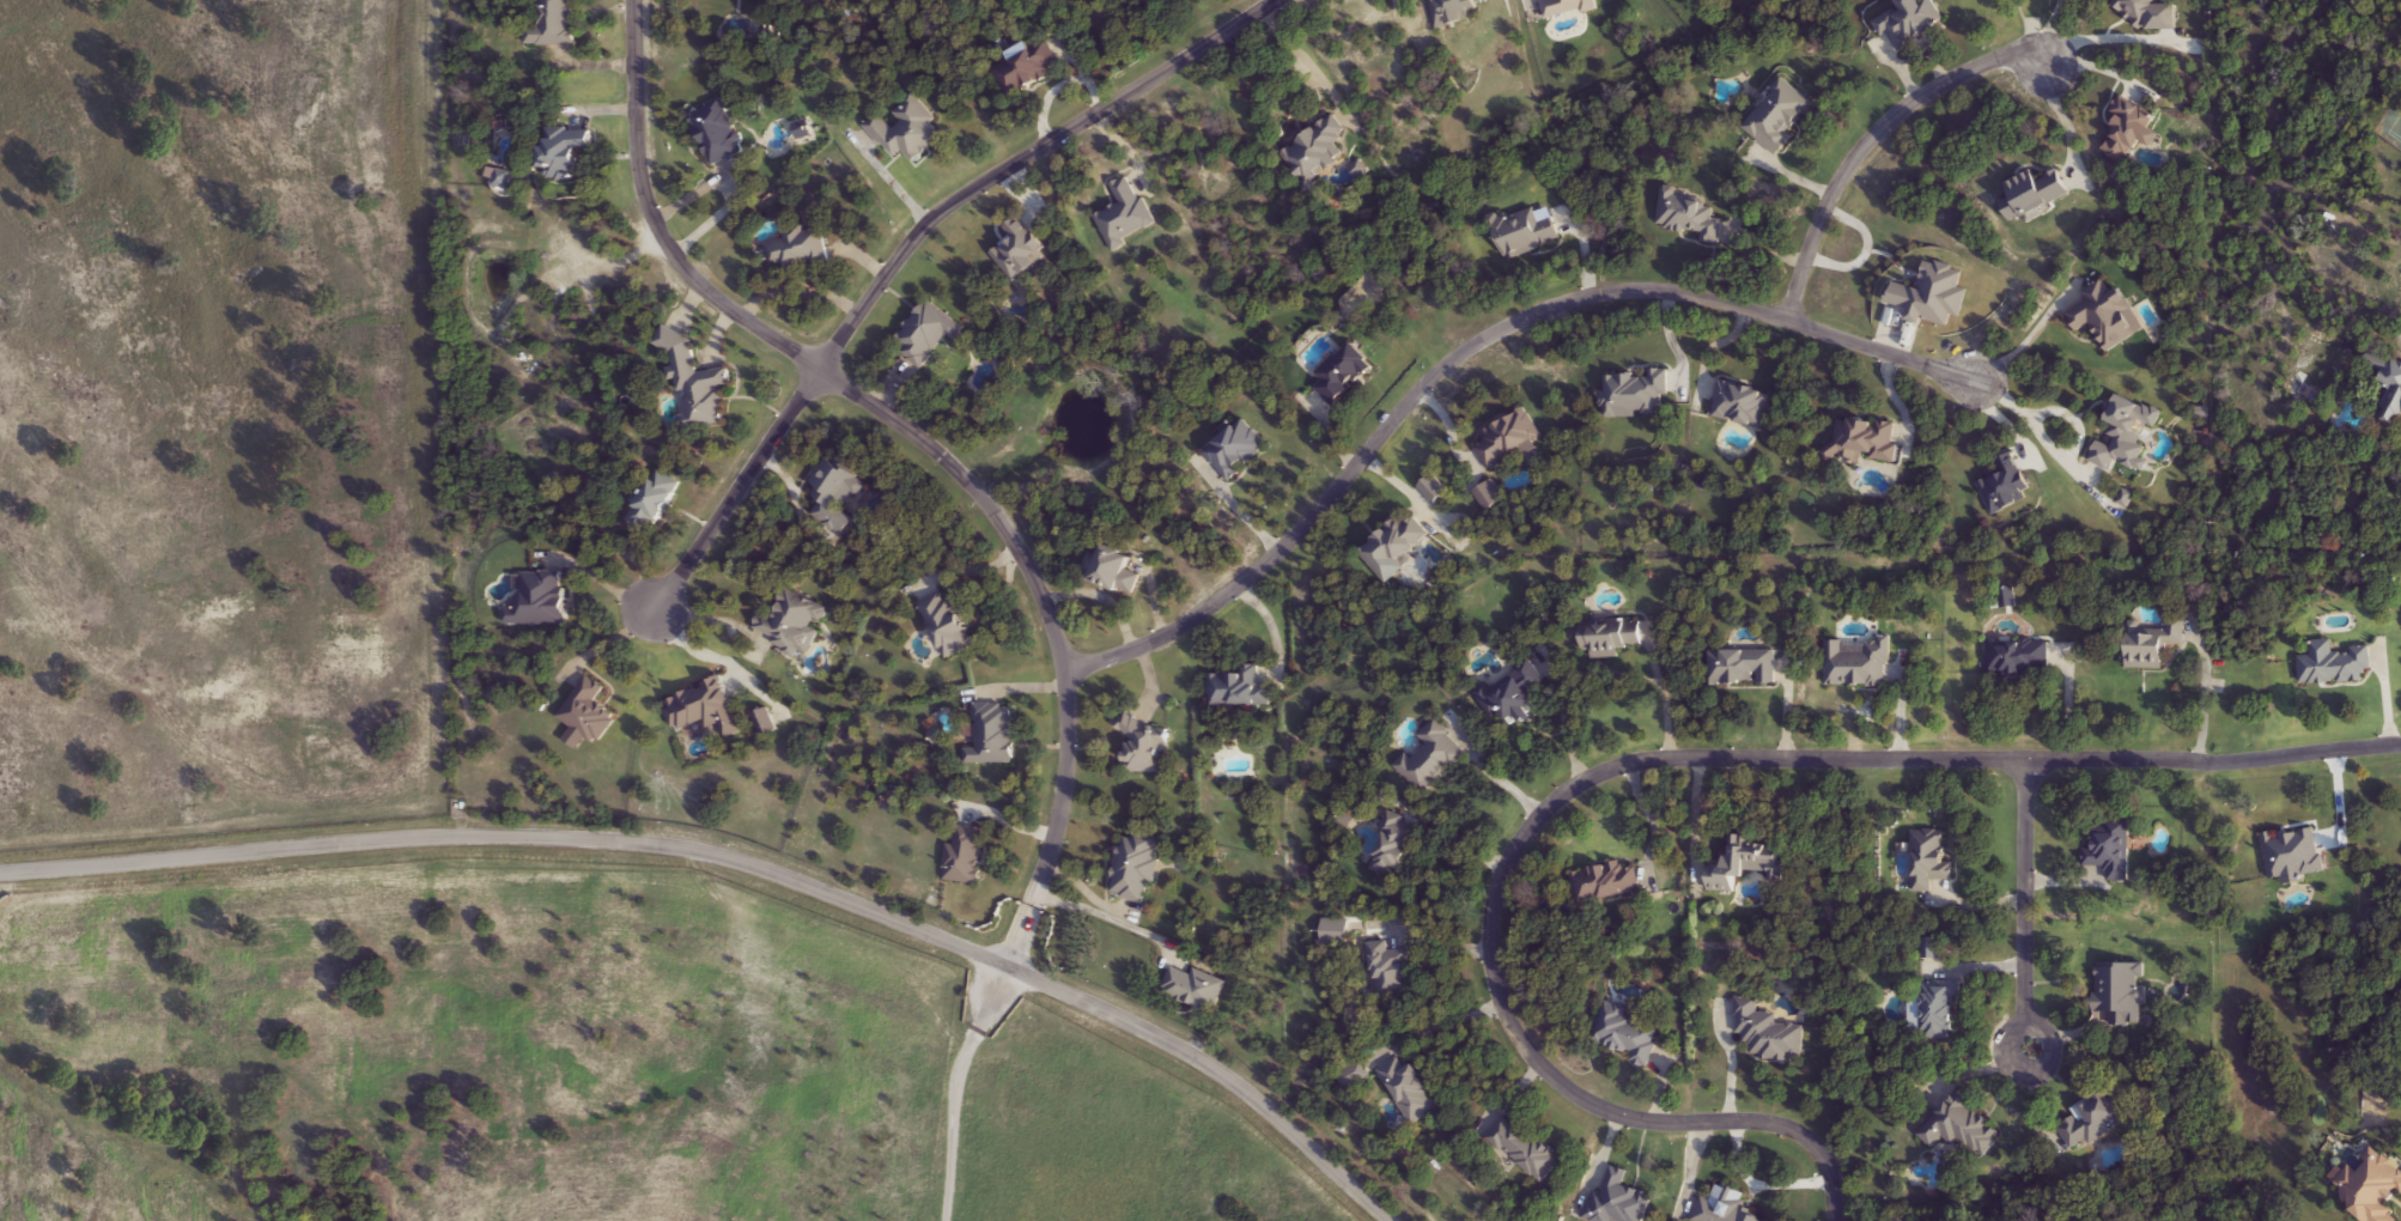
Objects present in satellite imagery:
building: (1151, 1)
building: (1567, 6)
building: (1454, 11)
building: (1910, 23)
building: (554, 25)
road: (2096, 30)
road: (1308, 59)
building: (1025, 69)
building: (1779, 117)
road: (2061, 119)
building: (2129, 129)
building: (908, 132)
building: (718, 133)
road: (1868, 138)
building: (567, 151)
building: (1319, 151)
road: (1023, 157)
road: (894, 180)
building: (2035, 193)
building: (1125, 214)
building: (1689, 217)
building: (1526, 232)
building: (800, 250)
building: (1021, 251)
building: (1932, 297)
building: (2108, 316)
building: (928, 333)
road: (2028, 340)
road: (1472, 347)
building: (1343, 375)
building: (699, 390)
building: (1634, 395)
building: (2393, 400)
building: (1743, 403)
road: (2036, 426)
building: (1509, 439)
building: (1864, 441)
road: (924, 444)
building: (1235, 451)
building: (2006, 486)
road: (736, 496)
building: (835, 496)
building: (654, 503)
building: (1394, 547)
building: (1112, 570)
building: (540, 601)
building: (792, 624)
building: (948, 625)
road: (1274, 627)
building: (1610, 638)
building: (2150, 650)
building: (2016, 660)
building: (1856, 663)
building: (2334, 666)
building: (1743, 668)
building: (1236, 691)
road: (1667, 691)
road: (2206, 691)
building: (1513, 697)
building: (706, 710)
building: (588, 713)
building: (993, 736)
building: (1144, 749)
building: (1432, 758)
road: (1636, 759)
road: (1648, 819)
building: (1394, 848)
building: (2113, 851)
building: (2293, 854)
building: (965, 857)
building: (1929, 858)
road: (742, 862)
building: (1745, 867)
building: (1137, 868)
building: (1604, 883)
road: (2030, 909)
road: (1110, 919)
building: (1337, 931)
building: (1390, 973)
building: (1193, 989)
building: (2121, 995)
building: (1937, 1013)
building: (1627, 1034)
building: (1768, 1034)
building: (1353, 1075)
road: (958, 1088)
building: (1410, 1091)
building: (2097, 1122)
building: (1963, 1128)
building: (1525, 1149)
building: (2375, 1186)
building: (1618, 1201)

